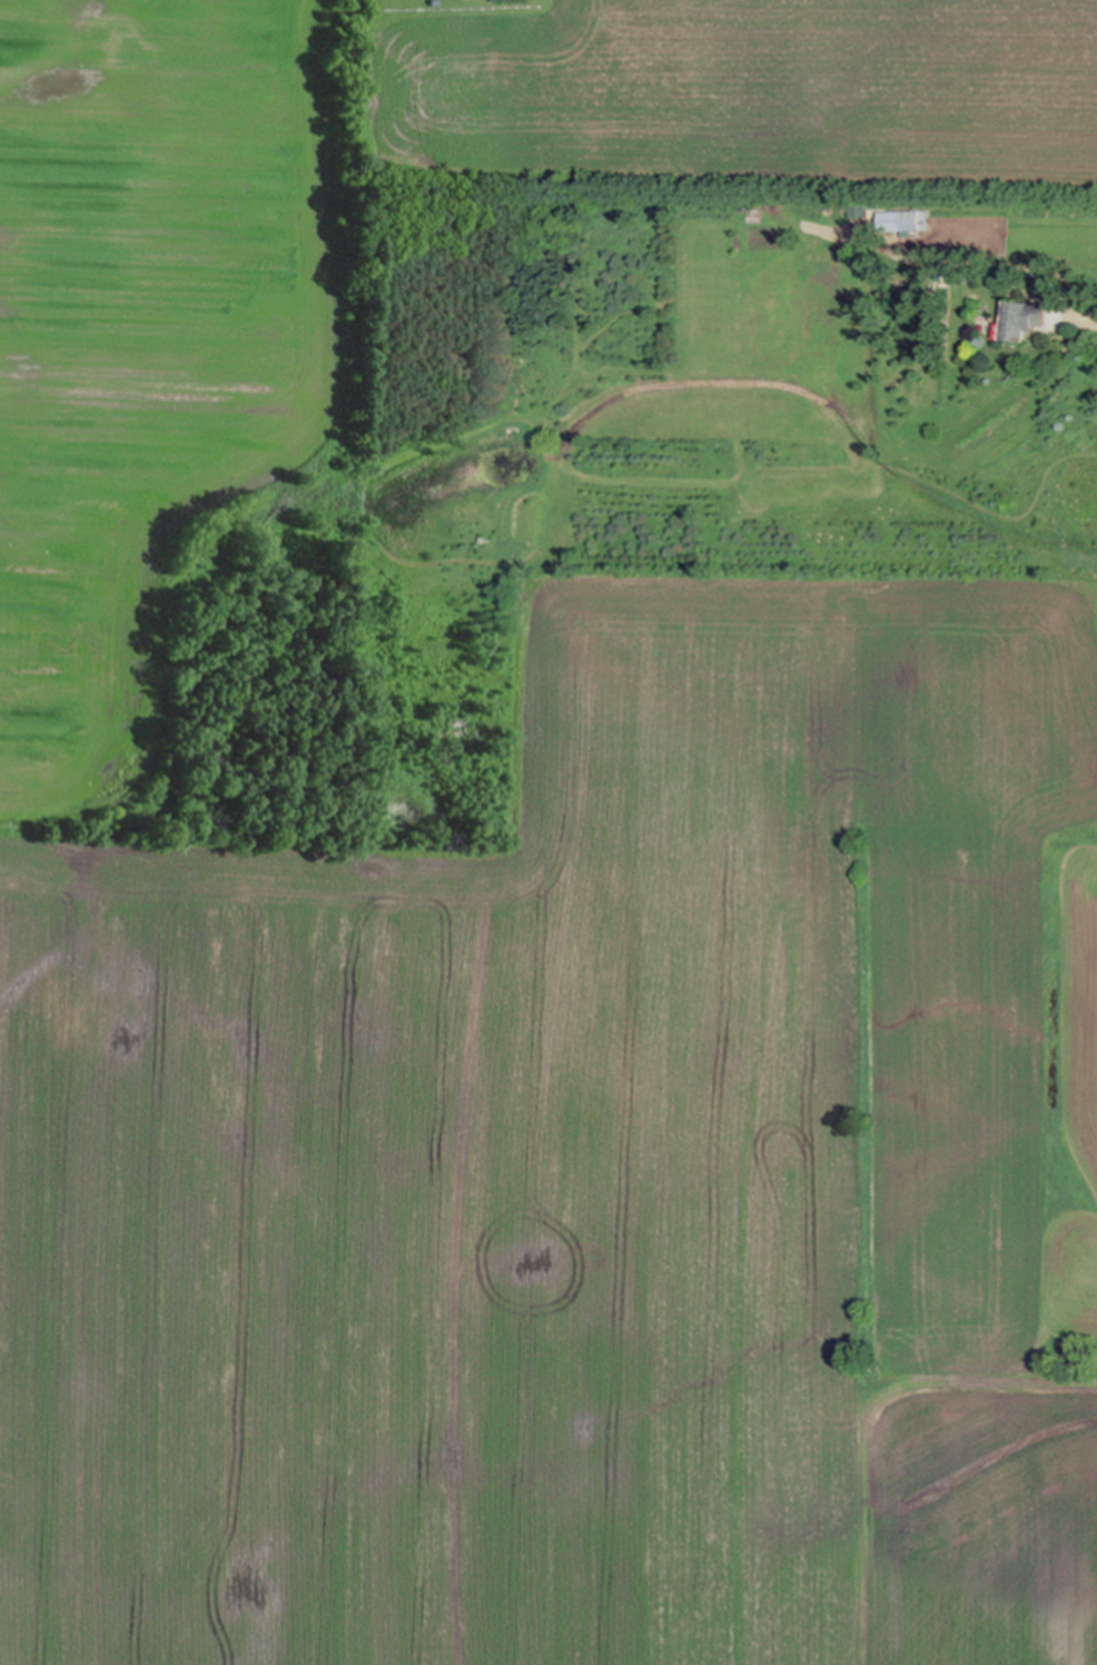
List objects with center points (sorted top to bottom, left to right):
building: (867, 209)
building: (899, 223)
road: (1087, 311)
building: (1024, 322)

